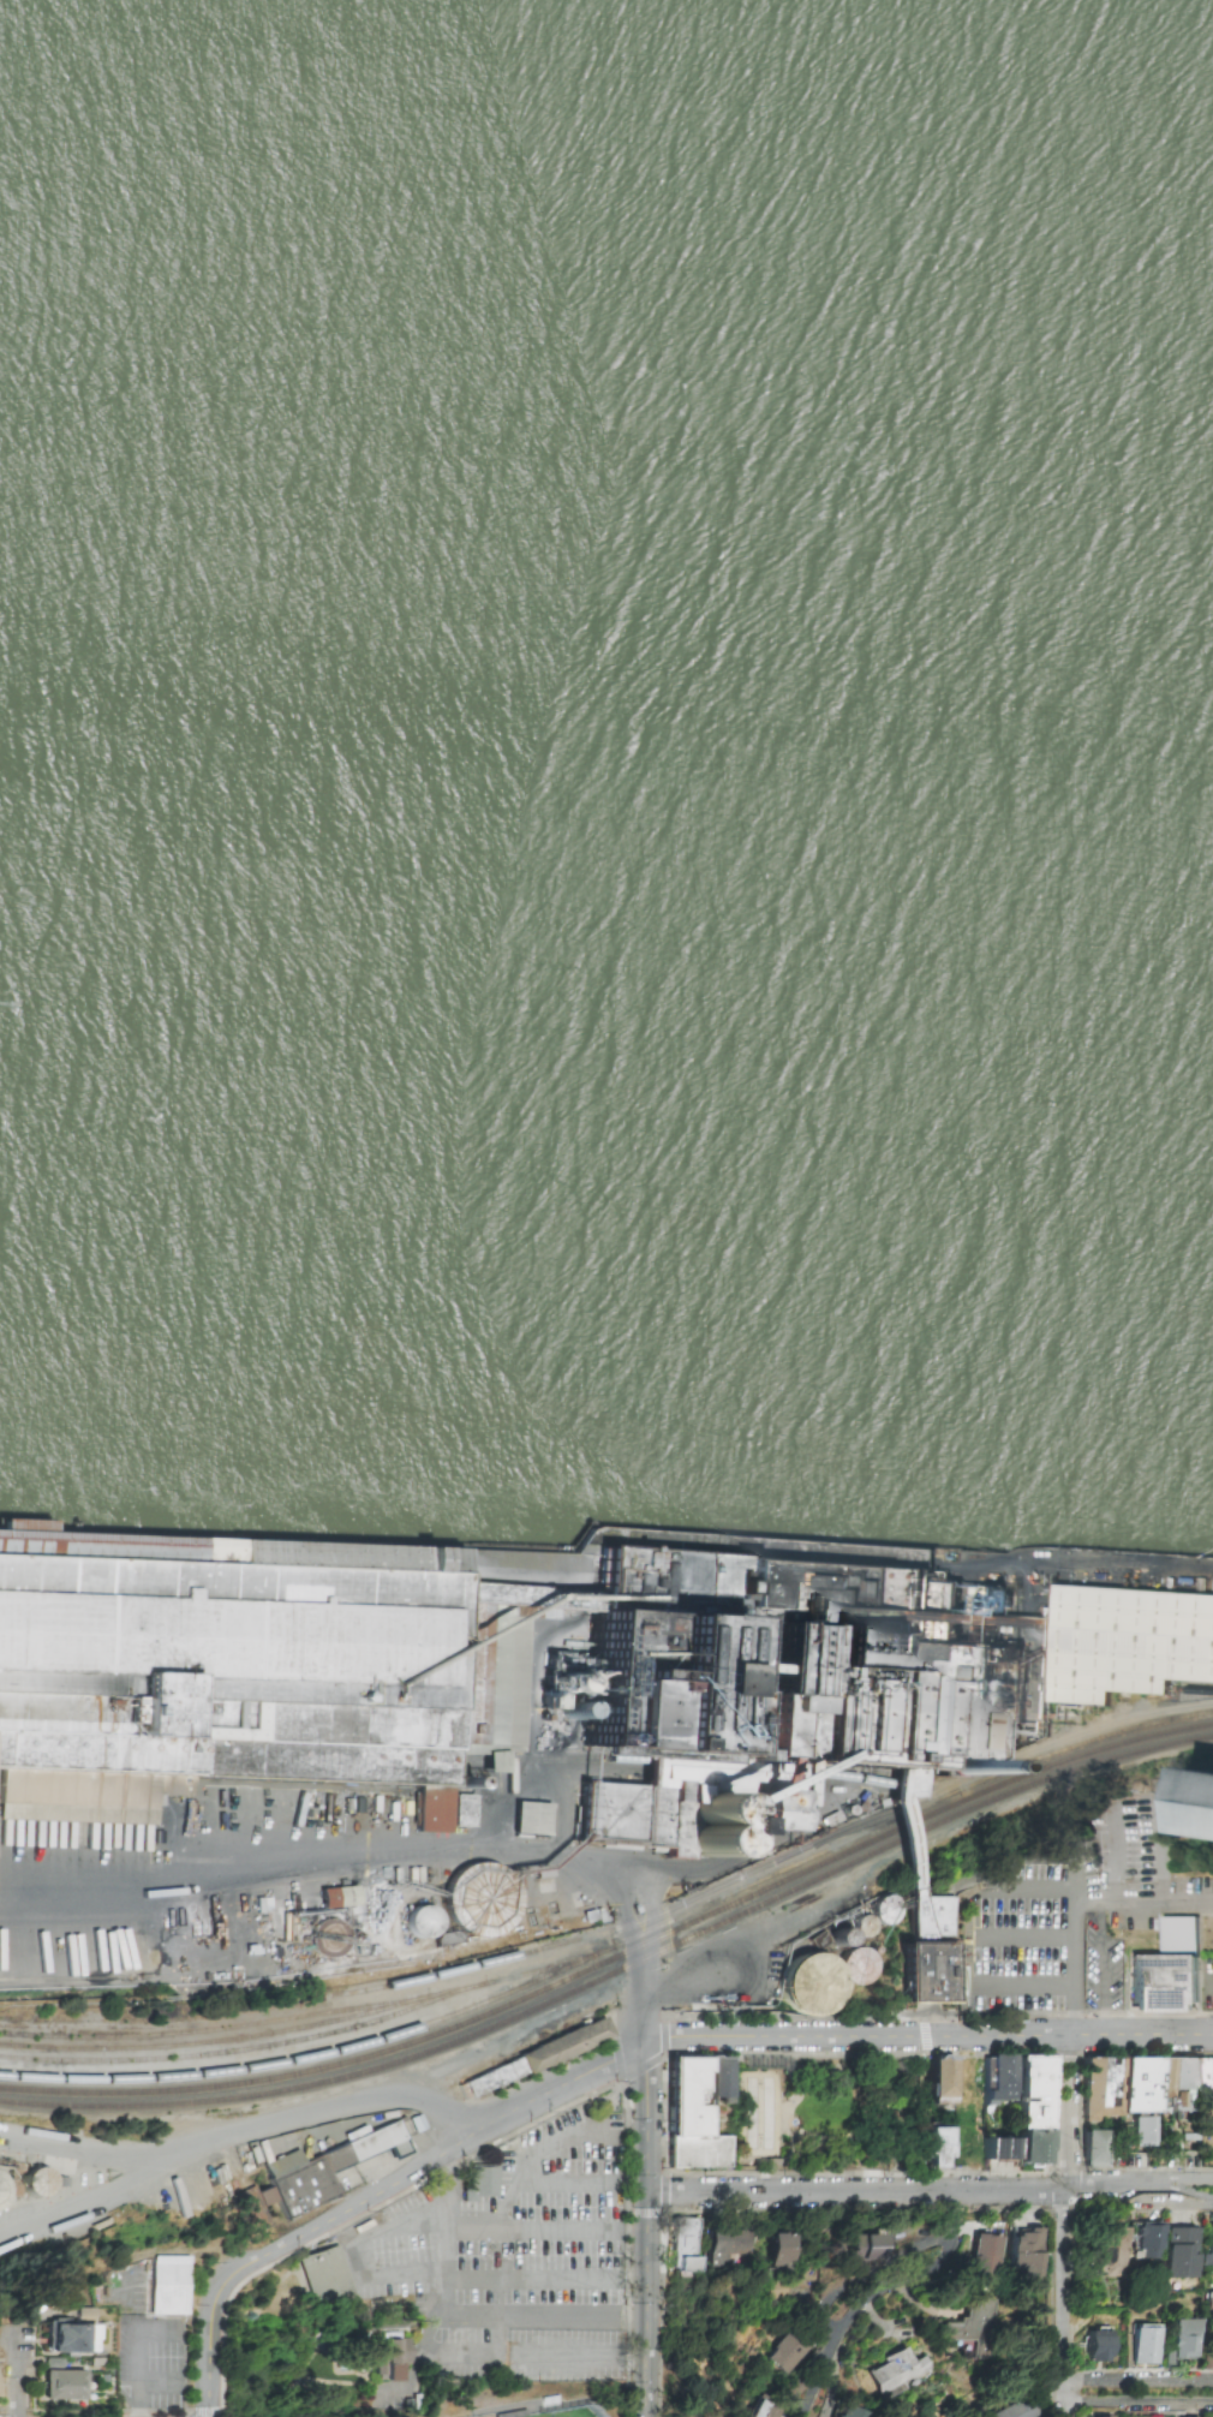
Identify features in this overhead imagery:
building: (861, 1657)
building: (261, 1663)
chimney: (939, 1765)
building: (1203, 1798)
building: (667, 1807)
building: (766, 1810)
building: (461, 1812)
building: (80, 1813)
building: (531, 1820)
railway: (895, 1824)
road: (1160, 1849)
road: (396, 1850)
road: (1112, 1852)
road: (1076, 1874)
road: (1033, 1884)
road: (620, 1887)
building: (337, 1897)
building: (480, 1902)
road: (1076, 1902)
railway: (680, 1908)
building: (930, 1915)
building: (860, 1921)
building: (423, 1922)
road: (1026, 1935)
railway: (617, 1959)
building: (861, 1967)
road: (1098, 1970)
building: (1167, 1970)
building: (927, 1973)
railway: (617, 1974)
road: (639, 1977)
railway: (516, 1979)
building: (811, 1985)
road: (1026, 1985)
road: (1211, 1985)
railway: (420, 2001)
railway: (198, 2033)
road: (931, 2040)
railway: (199, 2045)
railway: (226, 2054)
railway: (301, 2060)
building: (532, 2060)
building: (1207, 2075)
building: (717, 2077)
building: (939, 2078)
building: (1181, 2081)
building: (1122, 2087)
building: (1021, 2100)
park: (820, 2113)
road: (322, 2115)
road: (650, 2115)
building: (689, 2118)
building: (1145, 2131)
road: (515, 2133)
building: (934, 2147)
building: (1094, 2148)
building: (998, 2149)
road: (428, 2161)
road: (145, 2165)
building: (325, 2166)
road: (450, 2177)
road: (566, 2178)
road: (1183, 2179)
building: (38, 2182)
building: (480, 2182)
road: (902, 2186)
building: (1, 2191)
road: (1183, 2196)
road: (615, 2225)
road: (555, 2228)
road: (1062, 2228)
road: (359, 2237)
building: (1147, 2240)
parking lot: (503, 2245)
building: (685, 2245)
building: (727, 2246)
building: (861, 2246)
building: (1208, 2246)
building: (777, 2250)
road: (448, 2251)
building: (1107, 2252)
building: (1181, 2252)
building: (1024, 2254)
building: (985, 2257)
building: (325, 2273)
road: (531, 2278)
building: (167, 2282)
building: (772, 2290)
road: (883, 2294)
road: (647, 2303)
building: (1207, 2306)
building: (974, 2327)
road: (161, 2329)
building: (65, 2337)
building: (1179, 2341)
building: (1143, 2344)
building: (1095, 2345)
road: (139, 2346)
building: (784, 2351)
road: (458, 2352)
road: (584, 2353)
road: (213, 2355)
building: (389, 2355)
parking lot: (570, 2356)
road: (20, 2373)
building: (894, 2373)
road: (163, 2377)
road: (406, 2382)
building: (61, 2385)
road: (1066, 2389)
parking lot: (392, 2395)
building: (1015, 2409)
building: (759, 2410)
road: (208, 2411)
road: (103, 2412)
road: (193, 2412)
building: (848, 2412)
road: (192, 2413)
park: (567, 2413)
road: (191, 2416)

